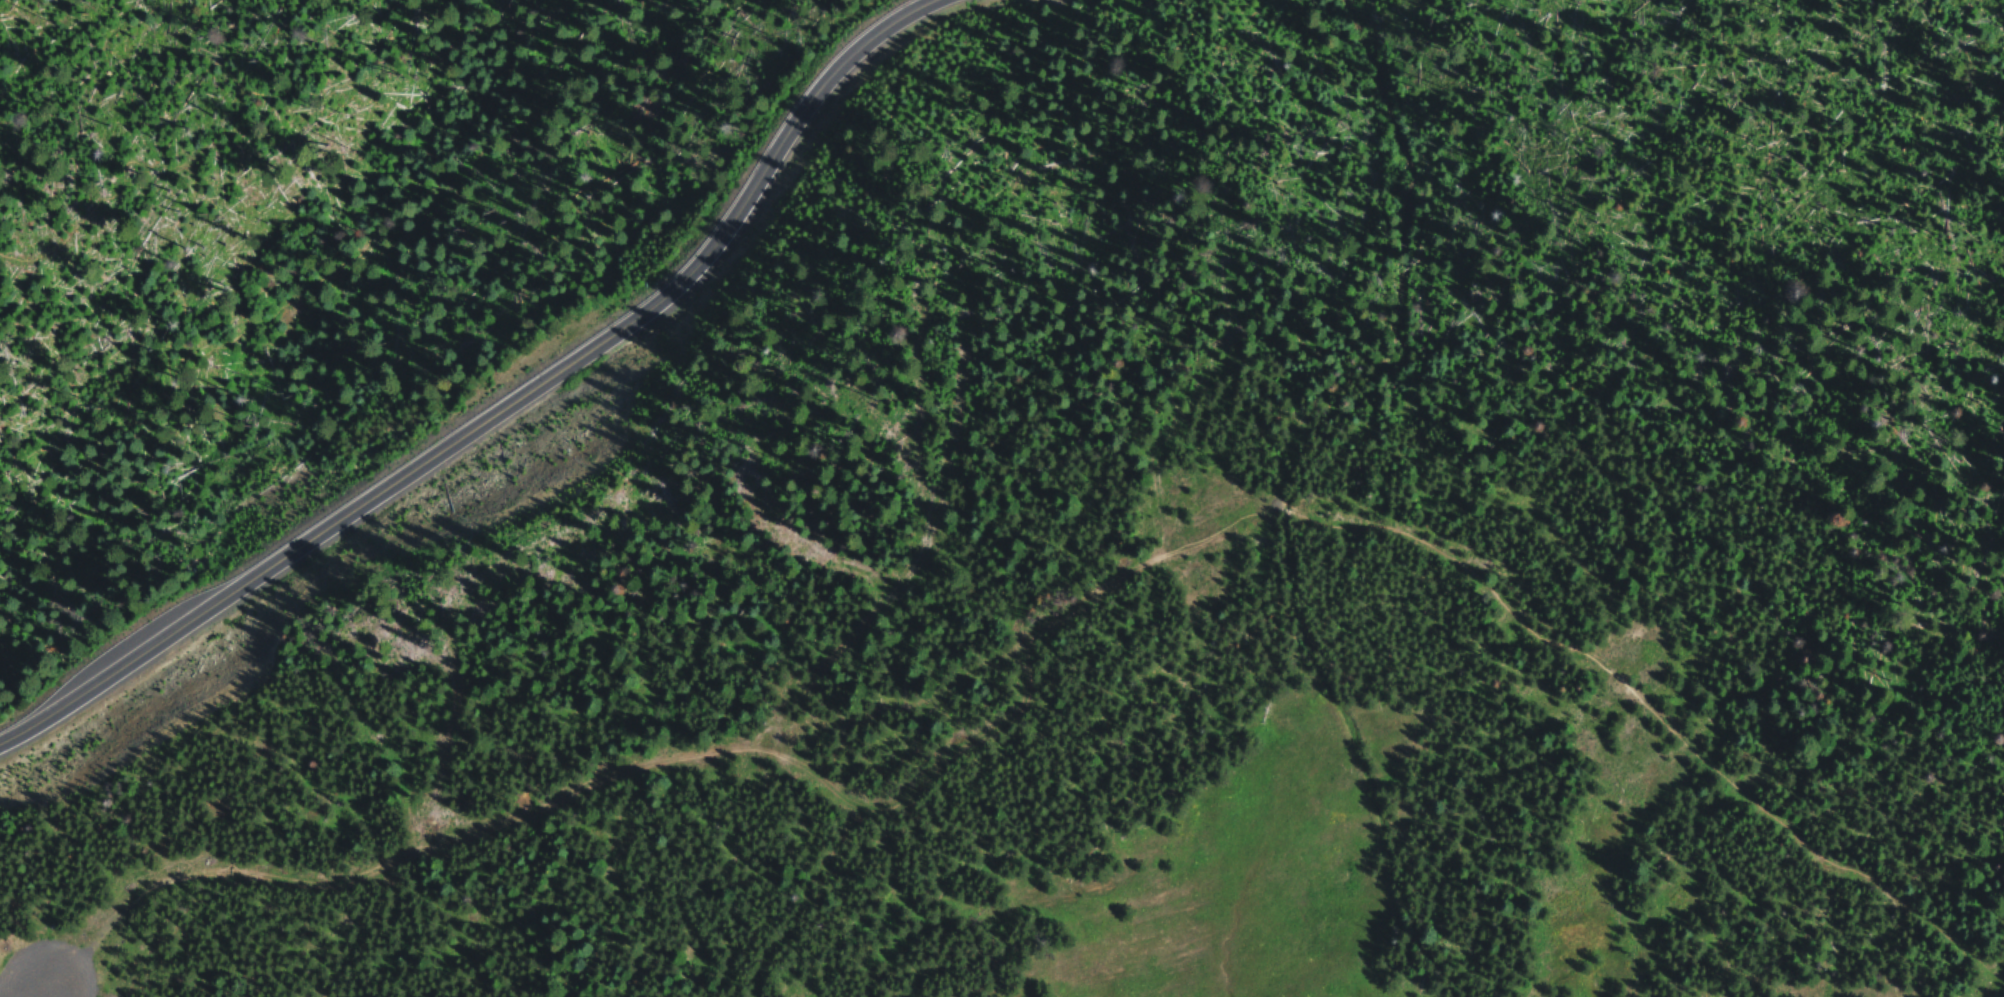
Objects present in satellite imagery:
road: (415, 120)
road: (503, 410)
road: (1282, 510)
road: (1662, 720)
road: (718, 755)
parking lot: (50, 972)
road: (54, 972)

